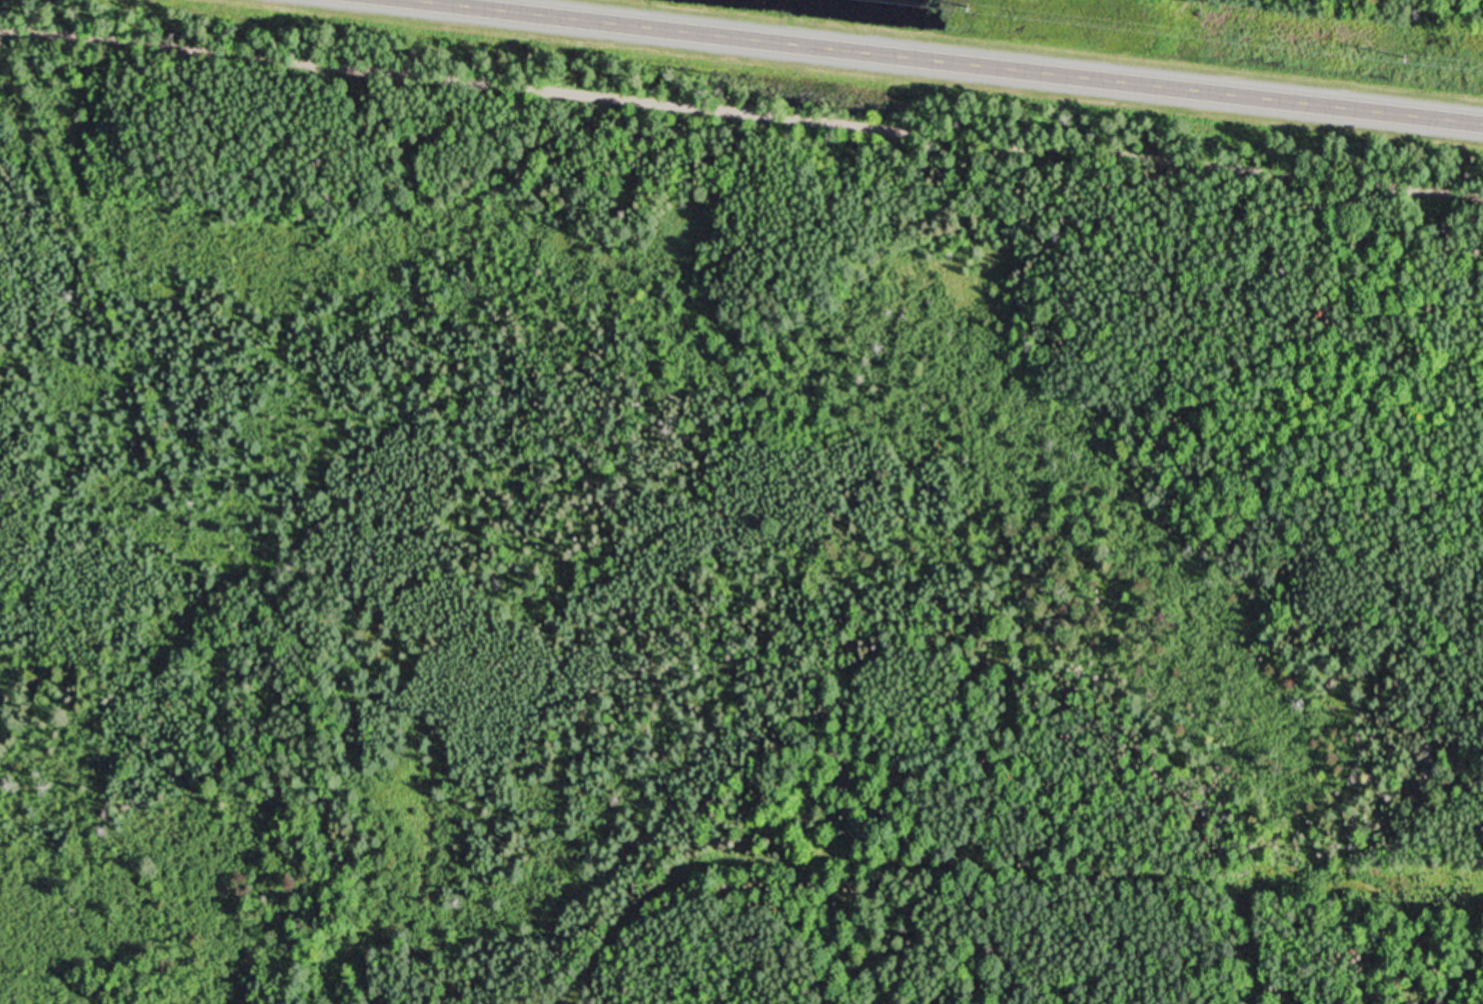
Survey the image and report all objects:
power tower: (970, 2)
power tower: (1405, 51)
road: (965, 59)
road: (741, 111)

